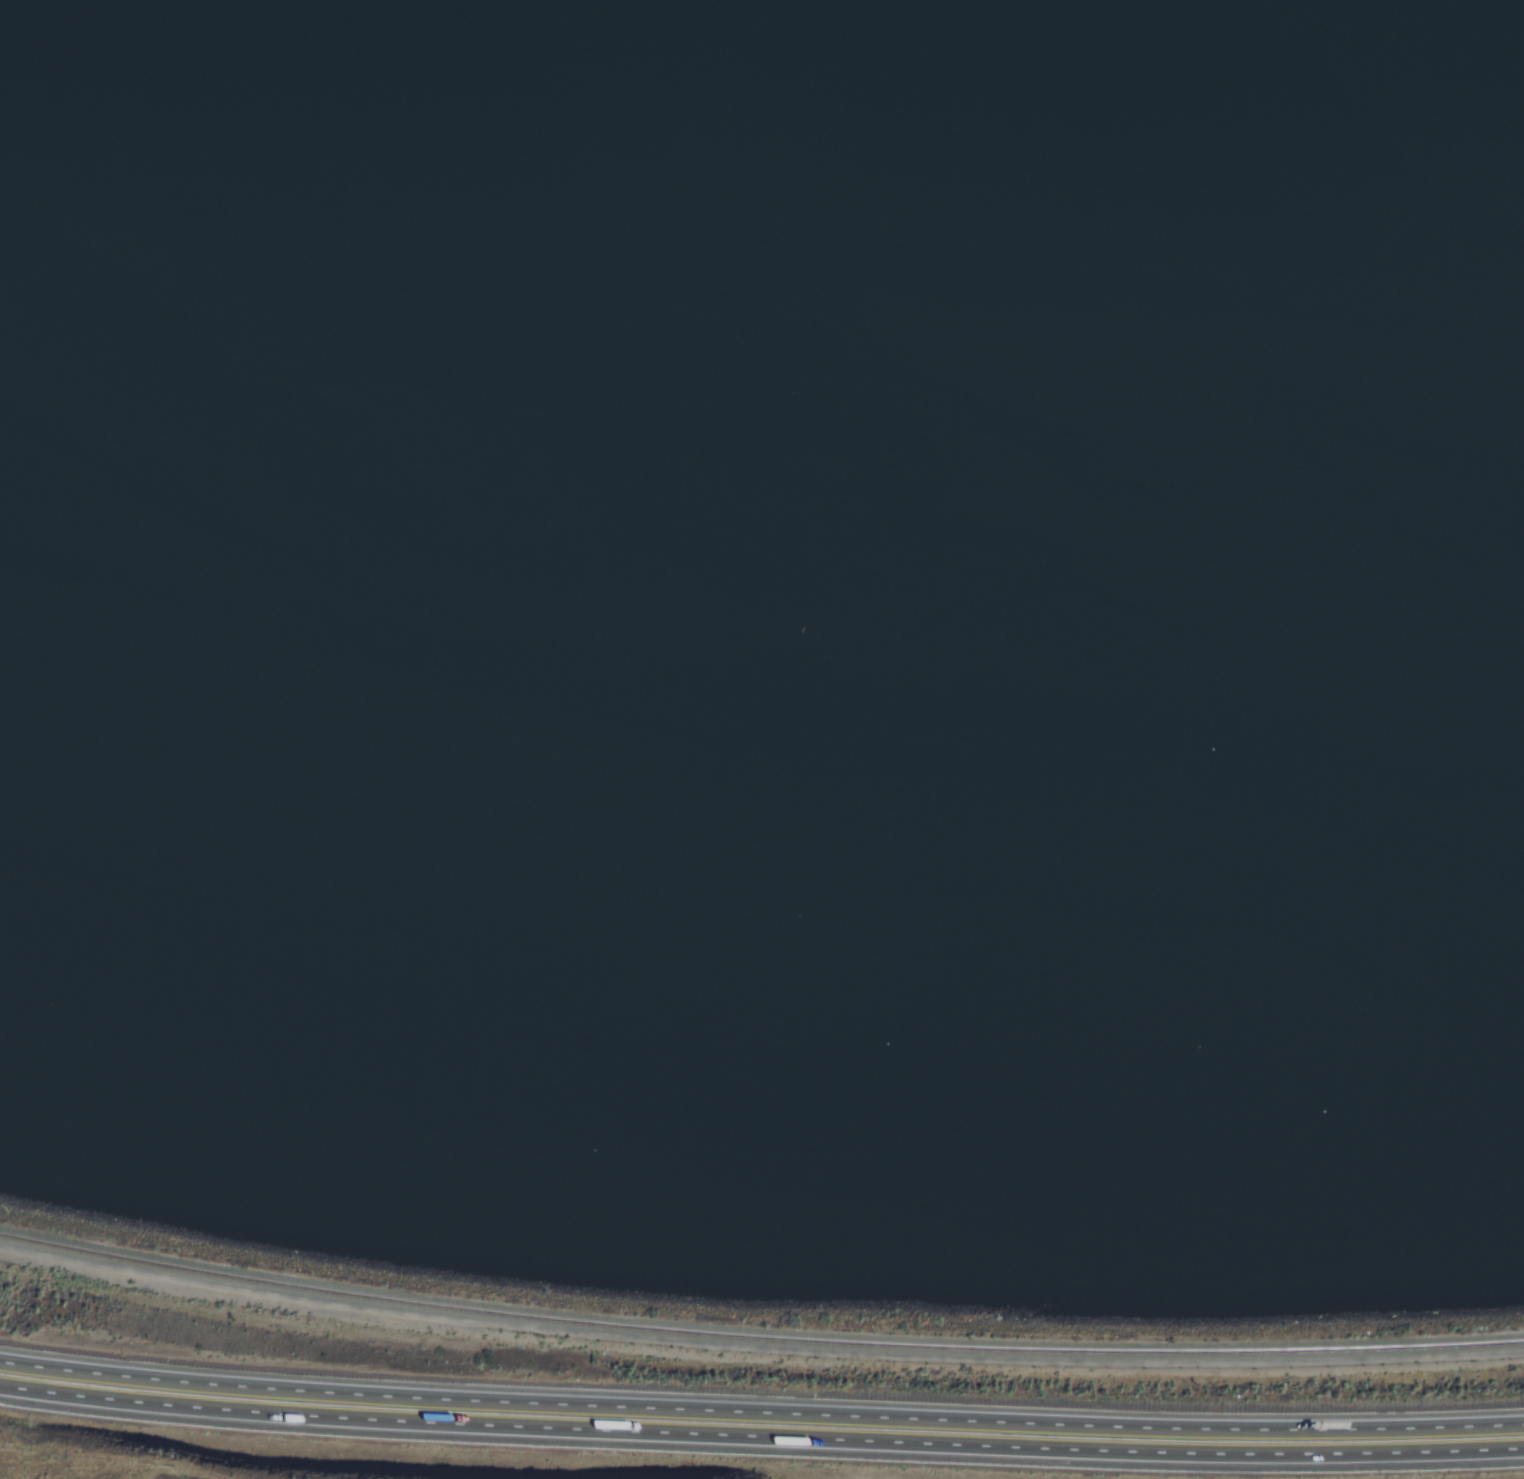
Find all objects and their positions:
railway: (757, 1339)
road: (760, 1414)
road: (760, 1441)

